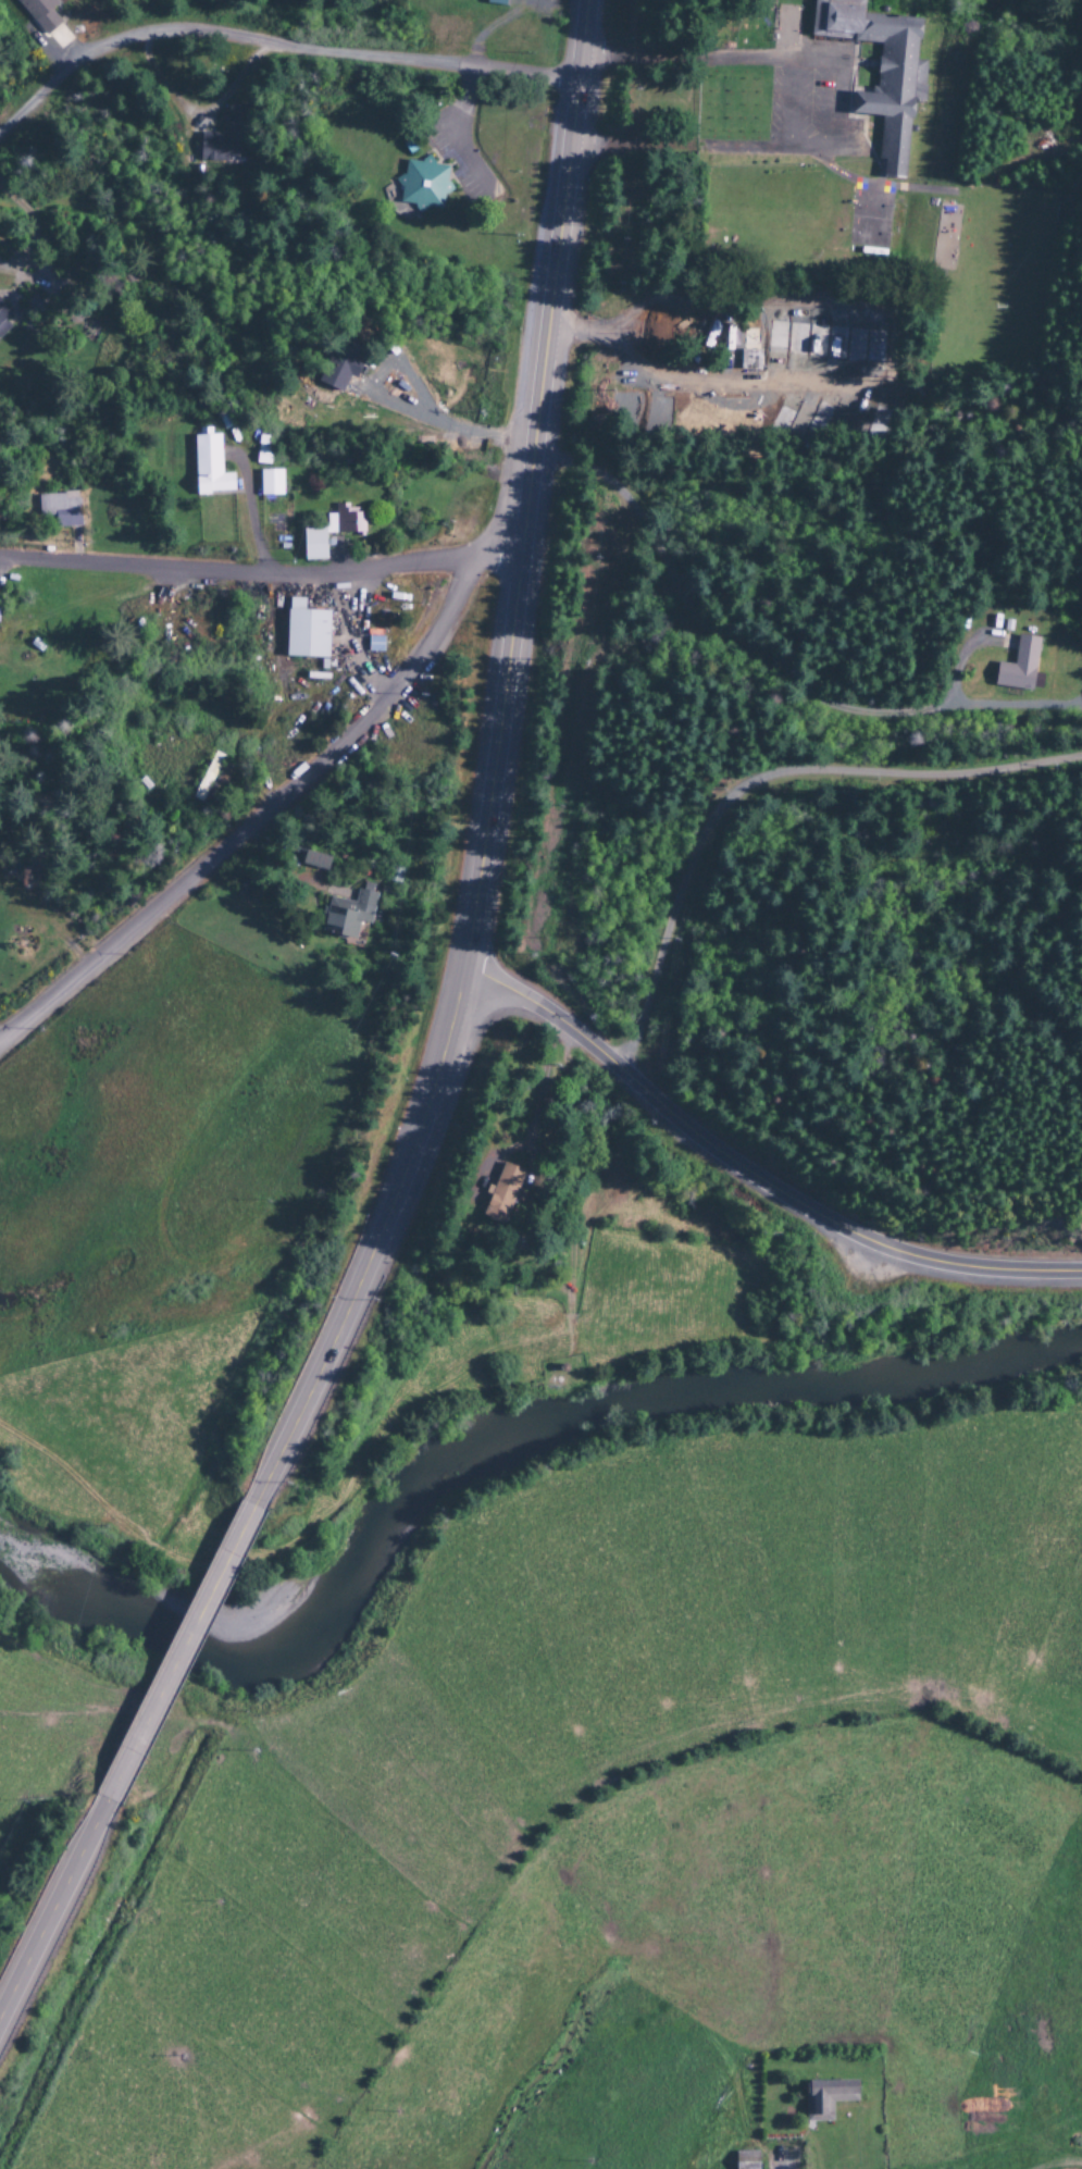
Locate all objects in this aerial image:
building: (496, 2)
building: (39, 13)
road: (582, 26)
road: (217, 37)
building: (879, 71)
road: (520, 76)
road: (791, 107)
road: (837, 112)
road: (457, 136)
building: (226, 137)
building: (409, 145)
parking lot: (453, 169)
building: (422, 185)
road: (860, 302)
road: (580, 334)
building: (749, 361)
building: (338, 369)
building: (872, 417)
building: (208, 467)
road: (528, 478)
building: (269, 483)
building: (59, 510)
building: (343, 521)
building: (312, 545)
road: (263, 574)
building: (304, 632)
building: (373, 642)
building: (1018, 667)
road: (756, 784)
road: (258, 822)
building: (346, 915)
road: (537, 1088)
road: (753, 1176)
road: (389, 1213)
road: (178, 1670)
road: (49, 1931)
building: (825, 2098)
road: (770, 2159)
building: (745, 2160)

